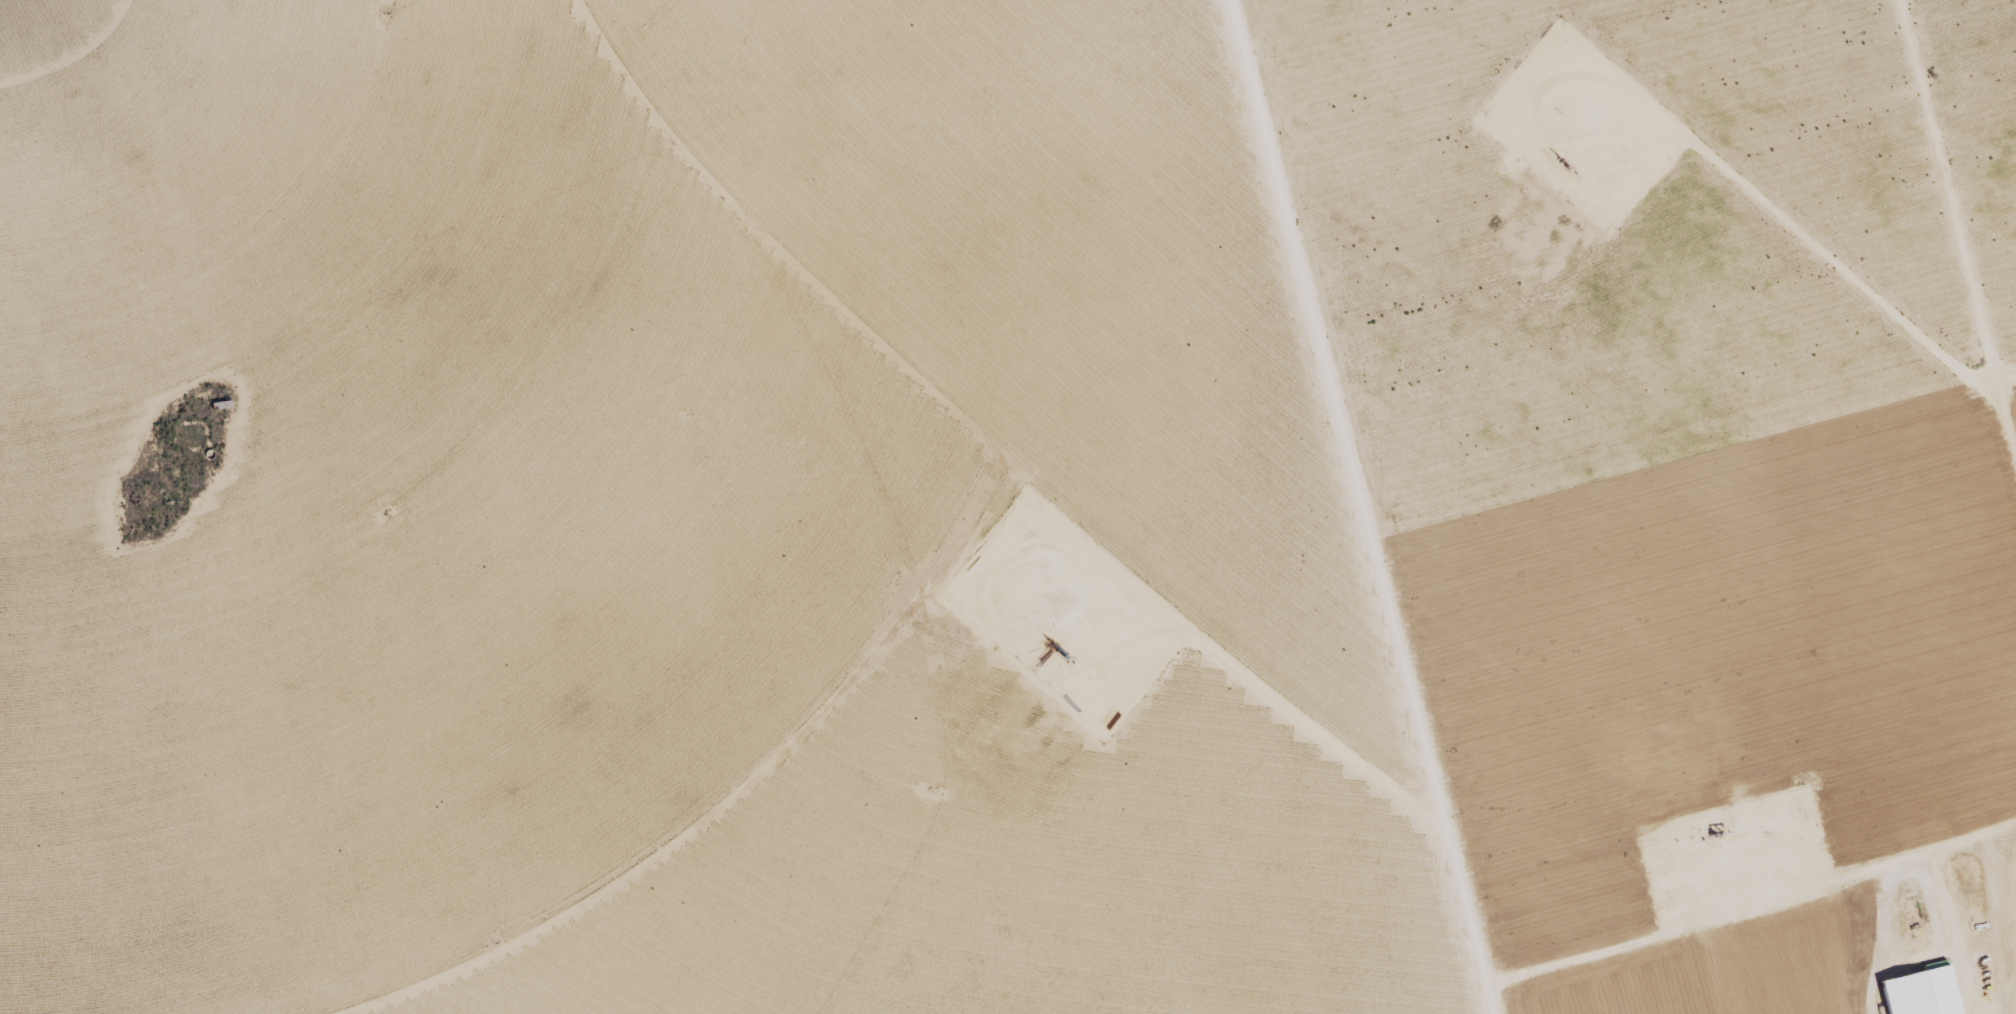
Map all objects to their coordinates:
road: (1358, 506)
road: (285, 779)
building: (1917, 992)

